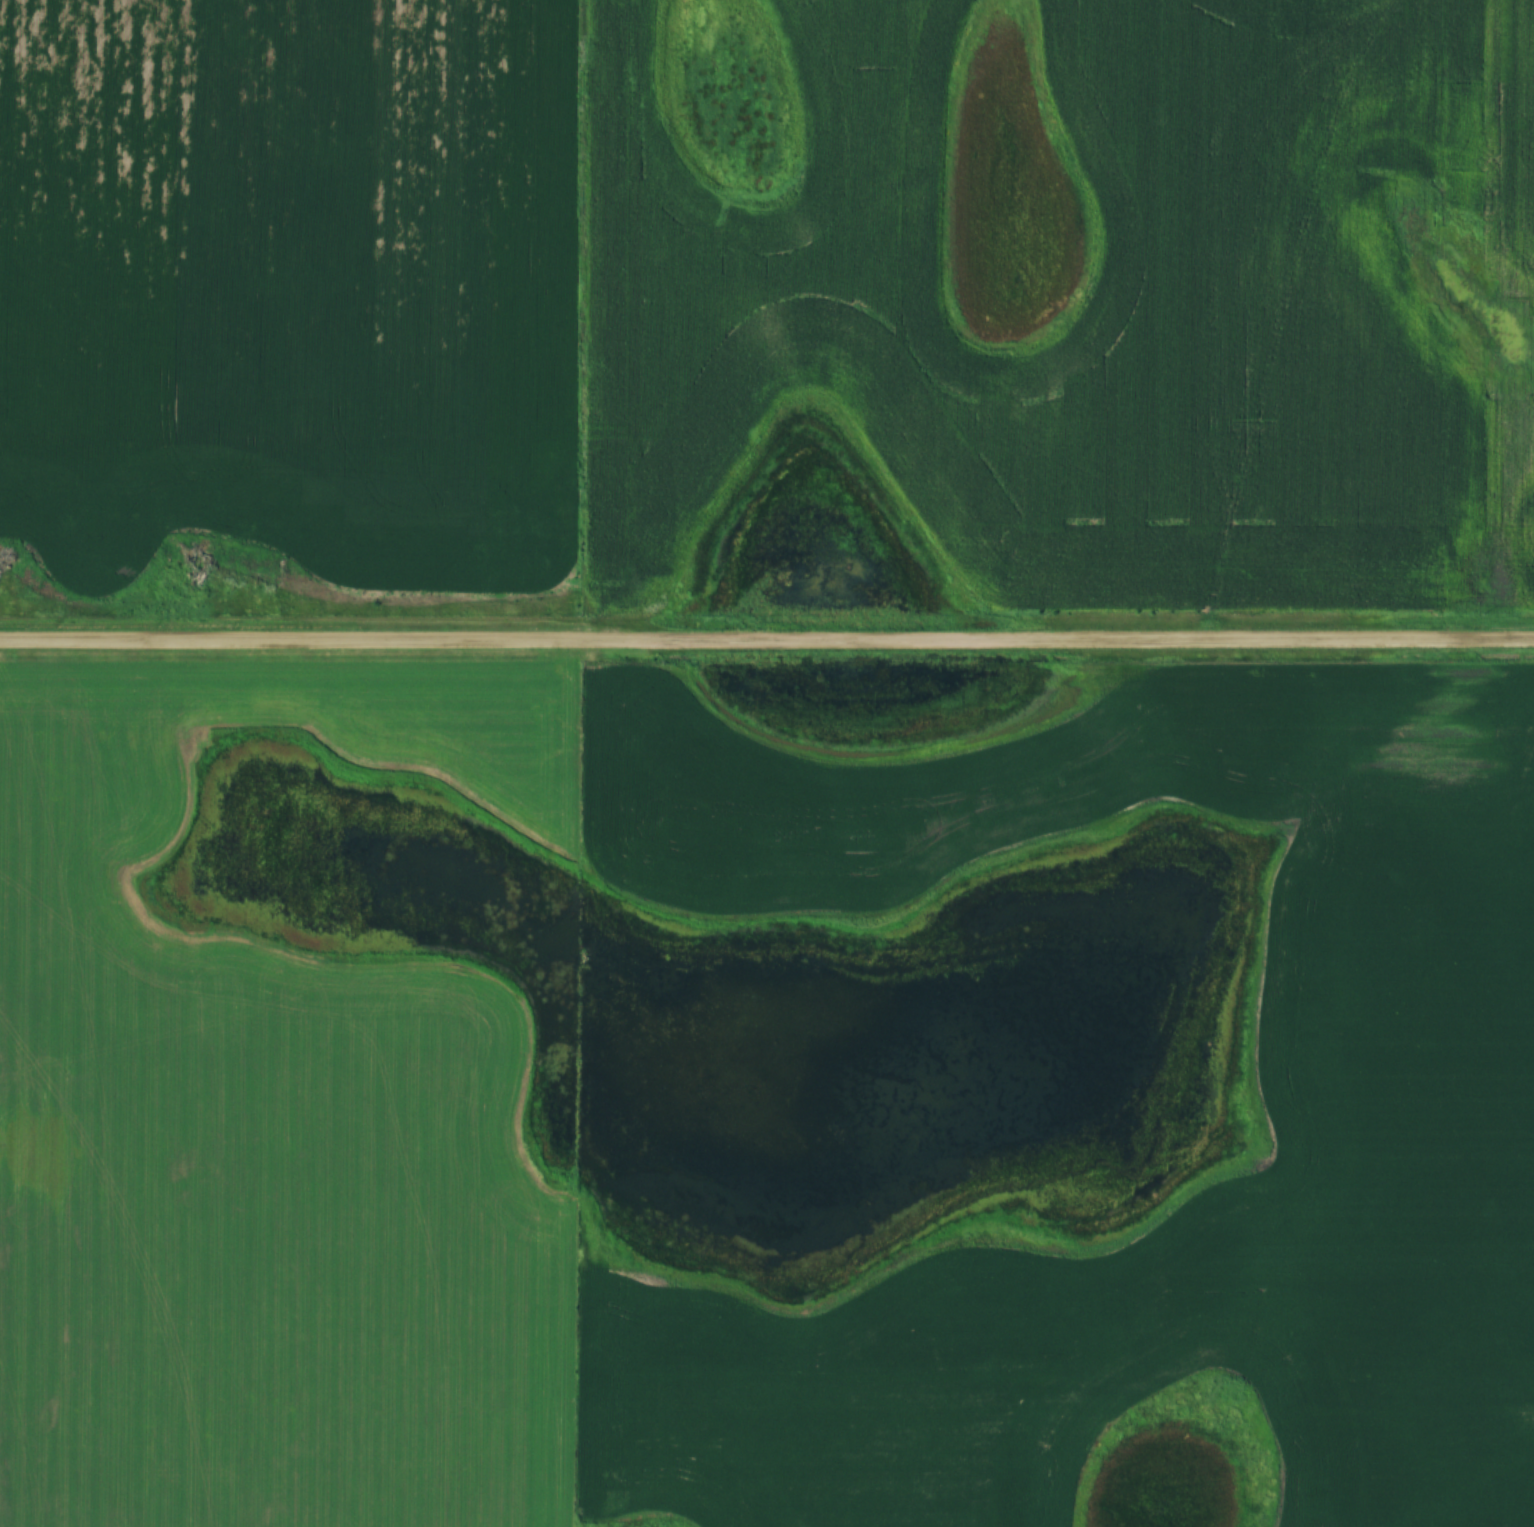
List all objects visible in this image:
road: (767, 636)

